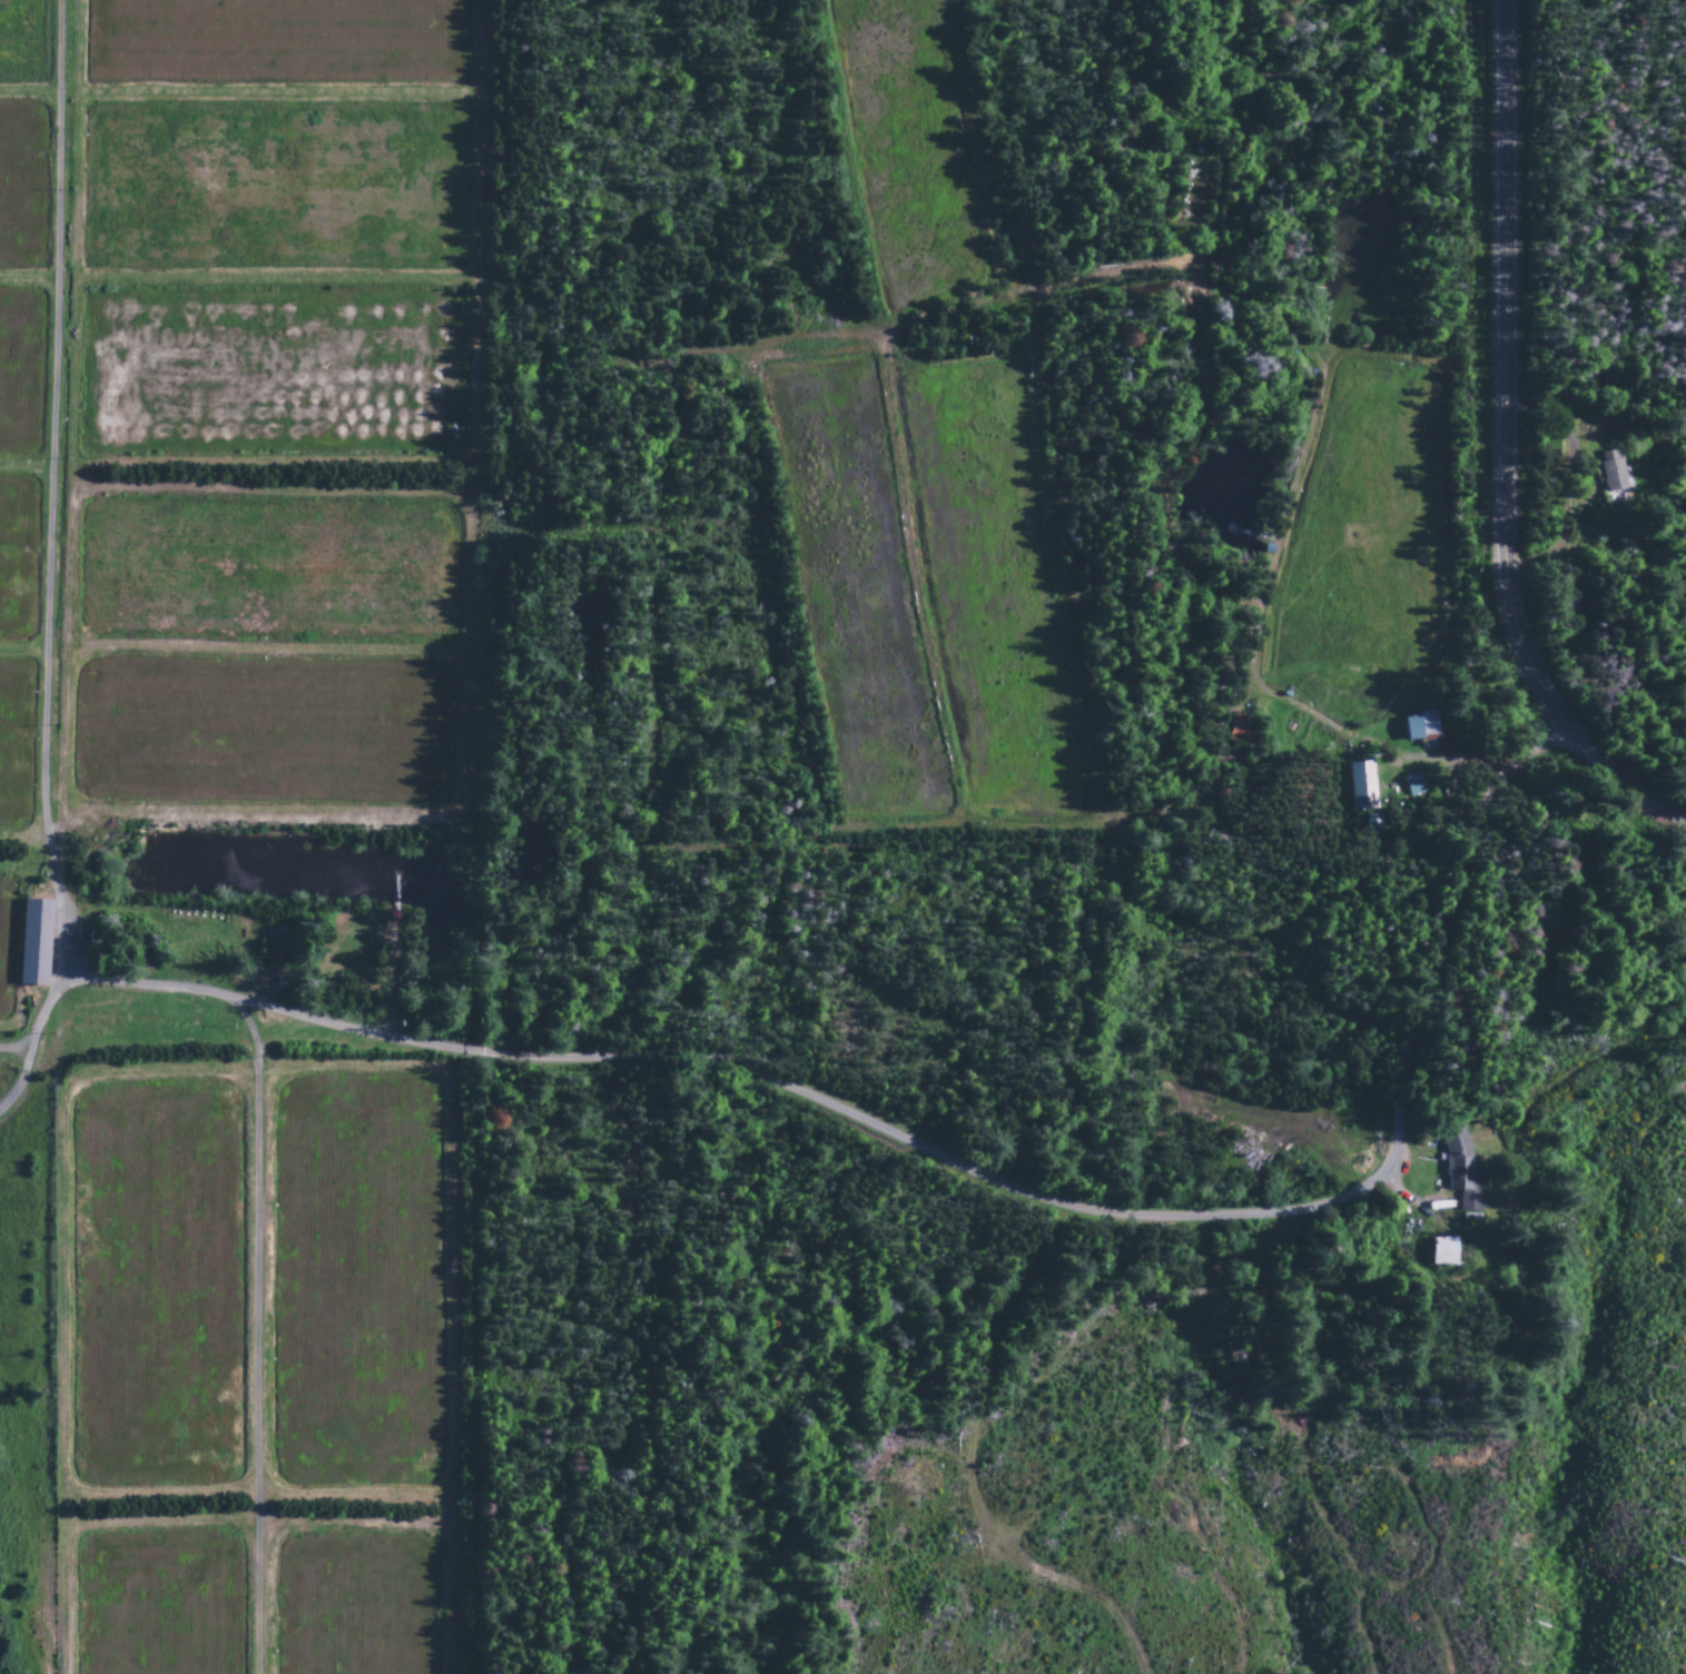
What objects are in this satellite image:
crop: (279, 40)
crop: (22, 43)
crop: (911, 150)
crop: (20, 186)
crop: (272, 188)
crop: (20, 368)
crop: (273, 373)
road: (1500, 449)
building: (1608, 470)
crop: (1360, 555)
crop: (16, 557)
crop: (268, 573)
crop: (855, 593)
crop: (992, 593)
building: (1413, 727)
crop: (262, 734)
crop: (14, 743)
building: (1410, 785)
building: (1355, 786)
crop: (6, 942)
building: (29, 943)
road: (11, 1047)
road: (903, 1138)
building: (1457, 1170)
crop: (357, 1282)
crop: (154, 1286)
crop: (159, 1603)
crop: (359, 1606)

